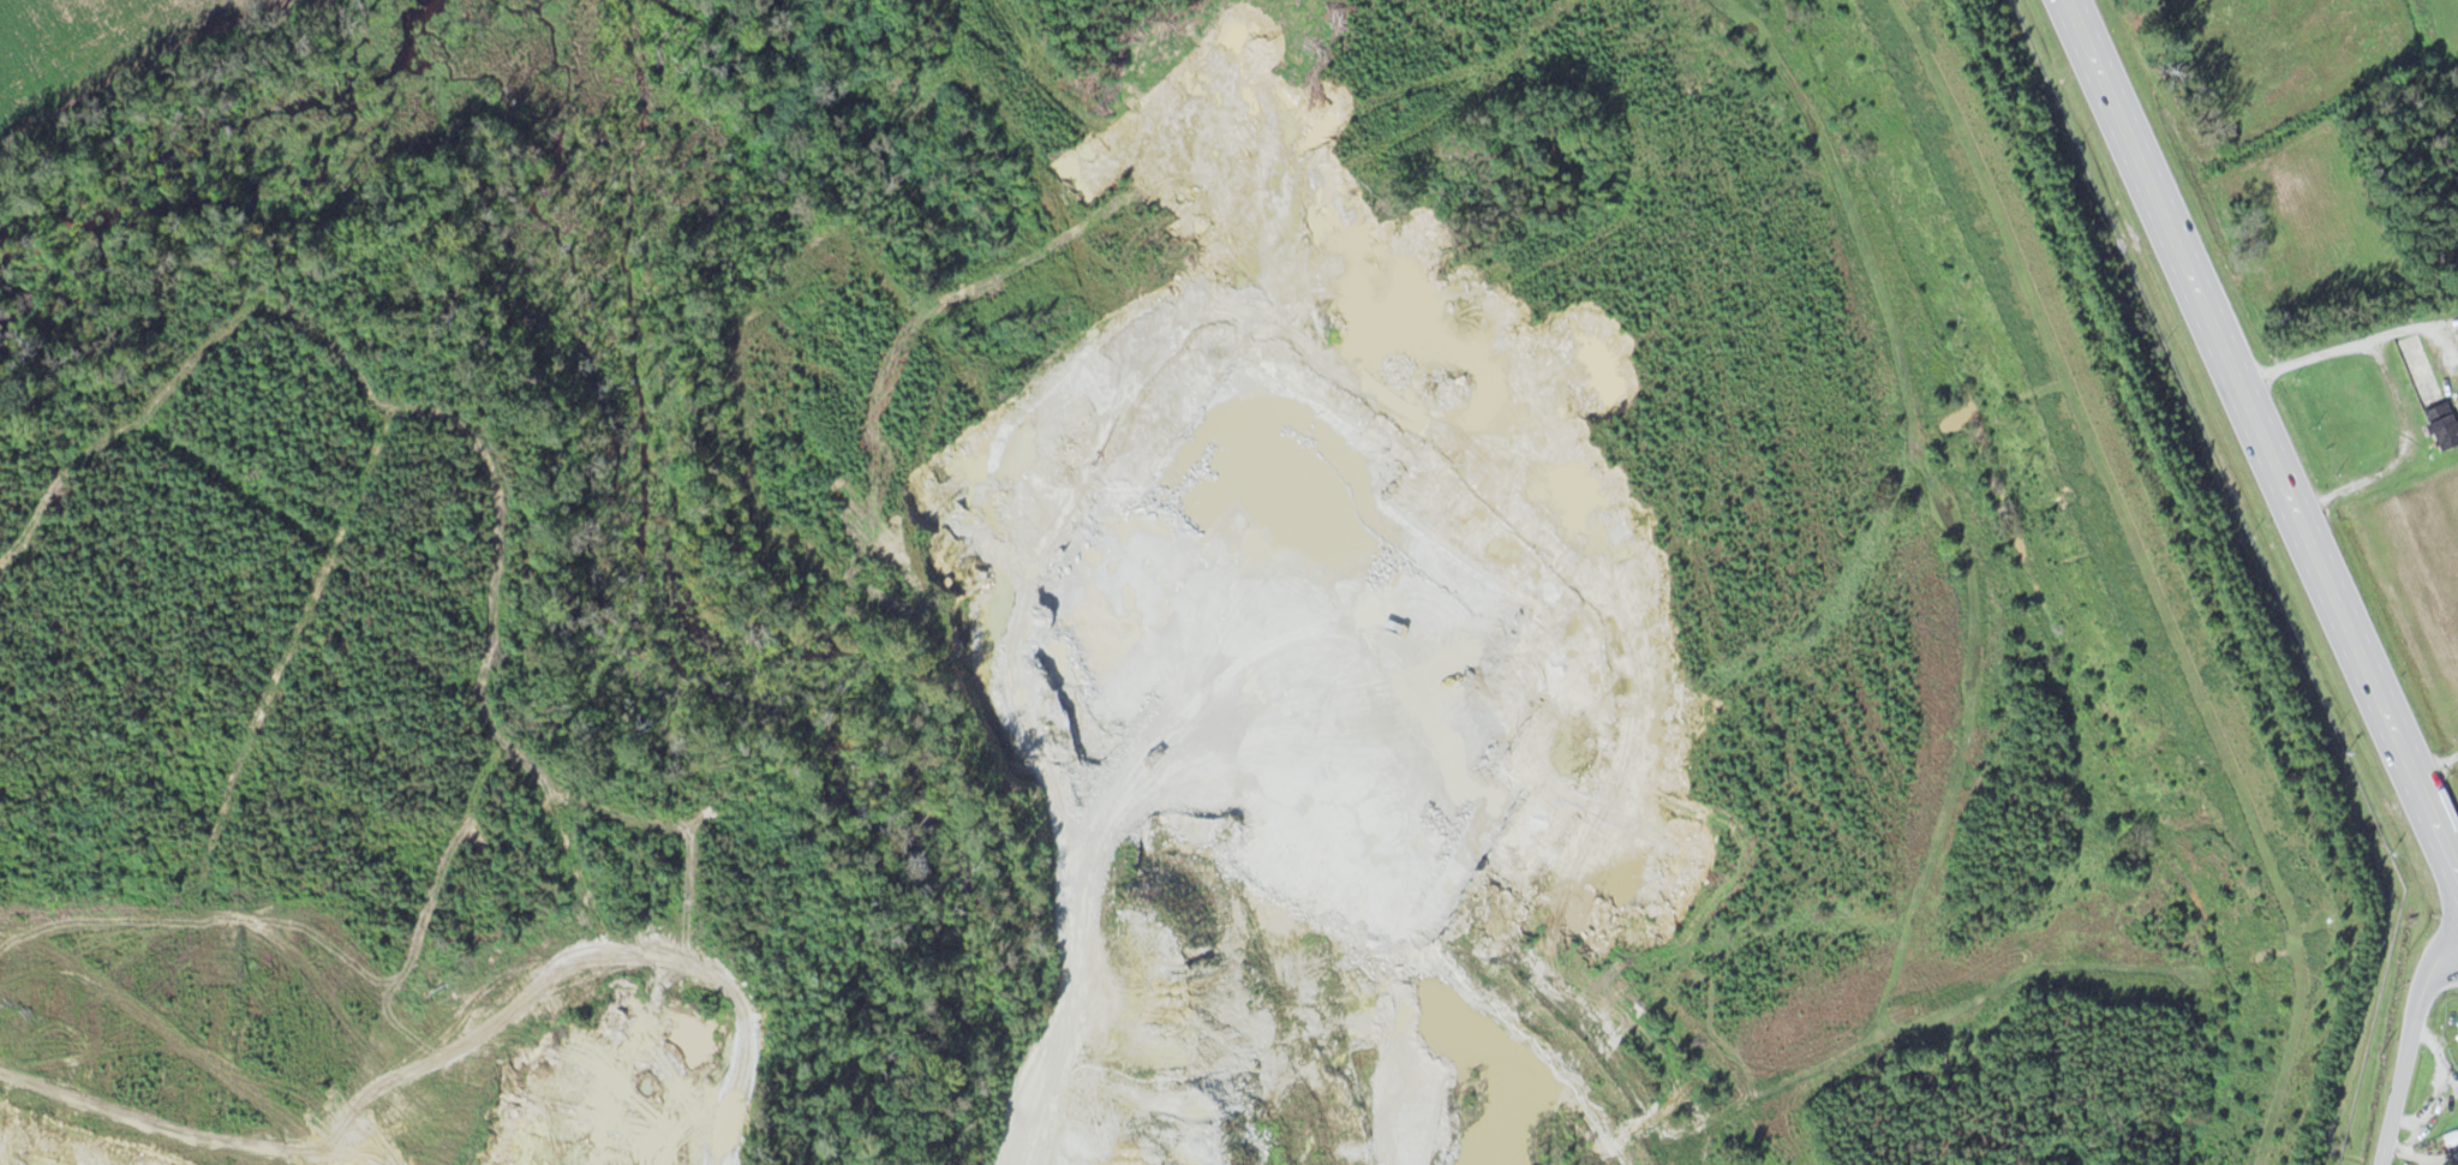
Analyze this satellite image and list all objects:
building: (2440, 424)
road: (2262, 441)
quarry: (1267, 961)
road: (2409, 1047)
building: (1933, 1077)

